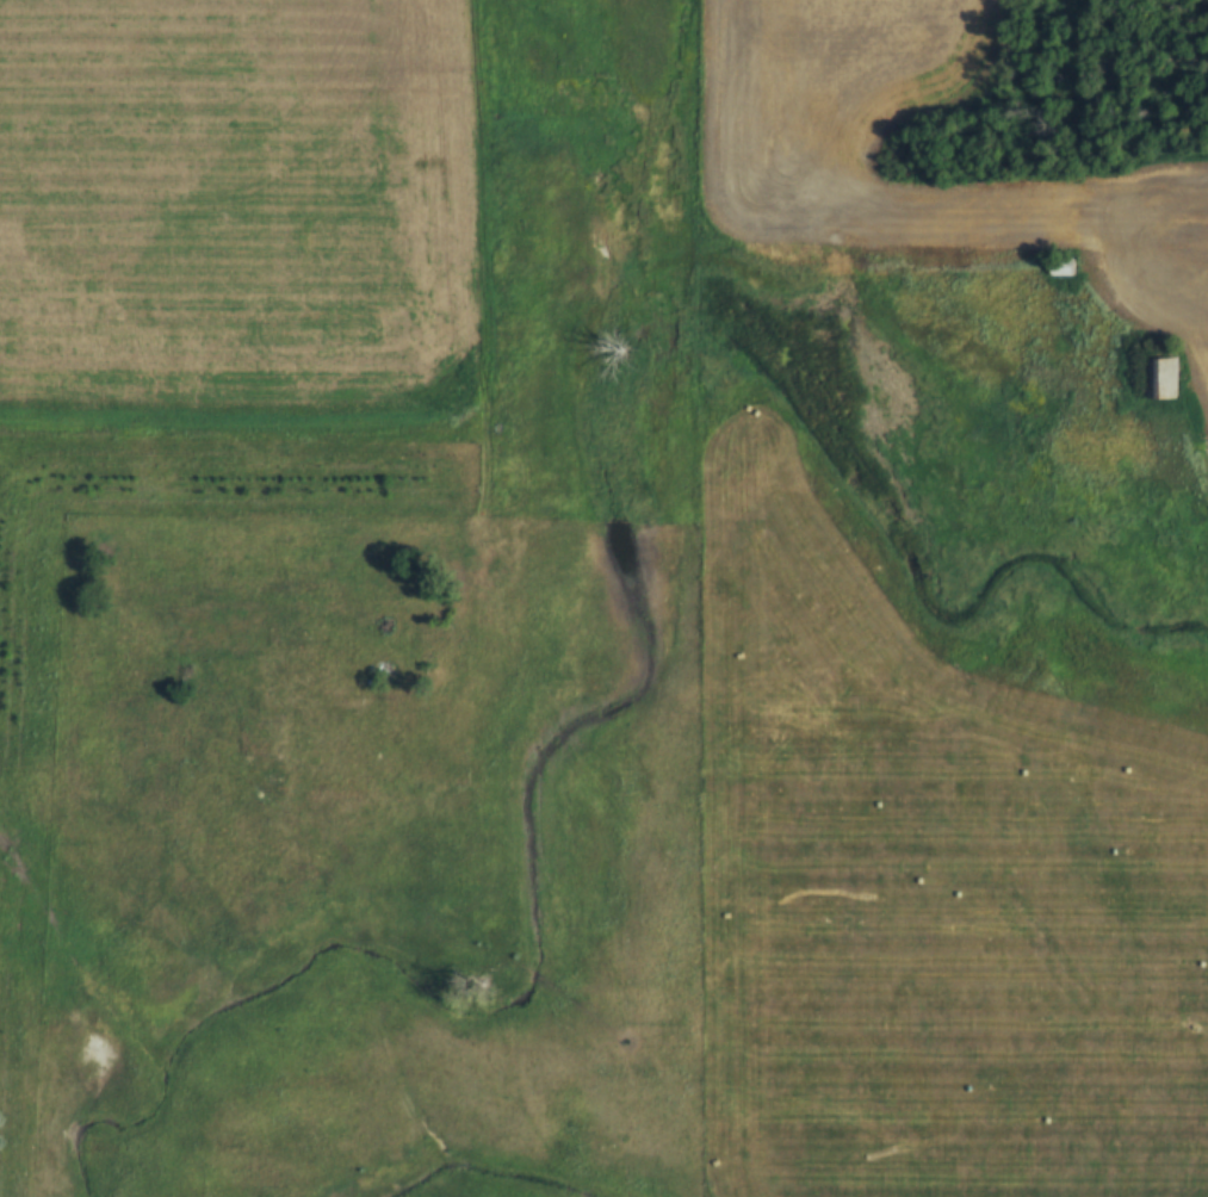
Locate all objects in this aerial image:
building: (1063, 267)

